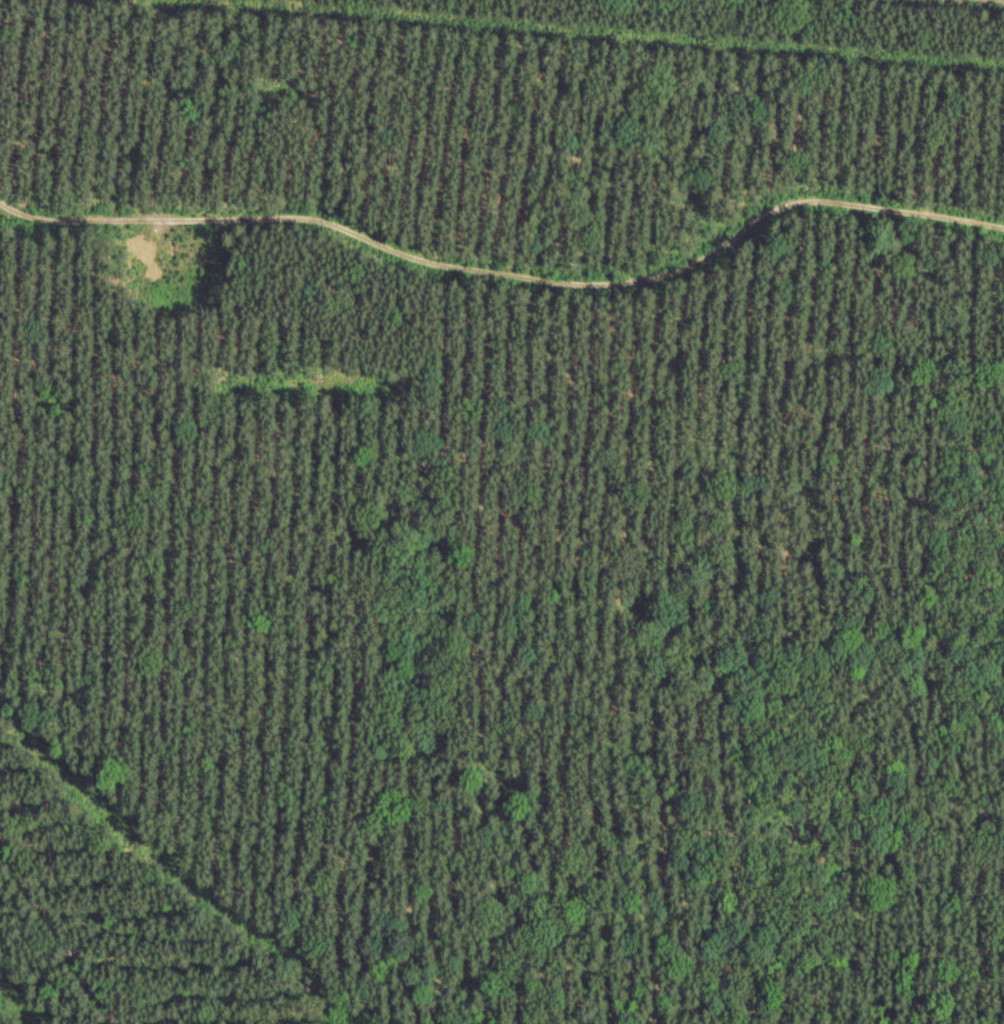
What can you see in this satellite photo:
road: (47, 933)

